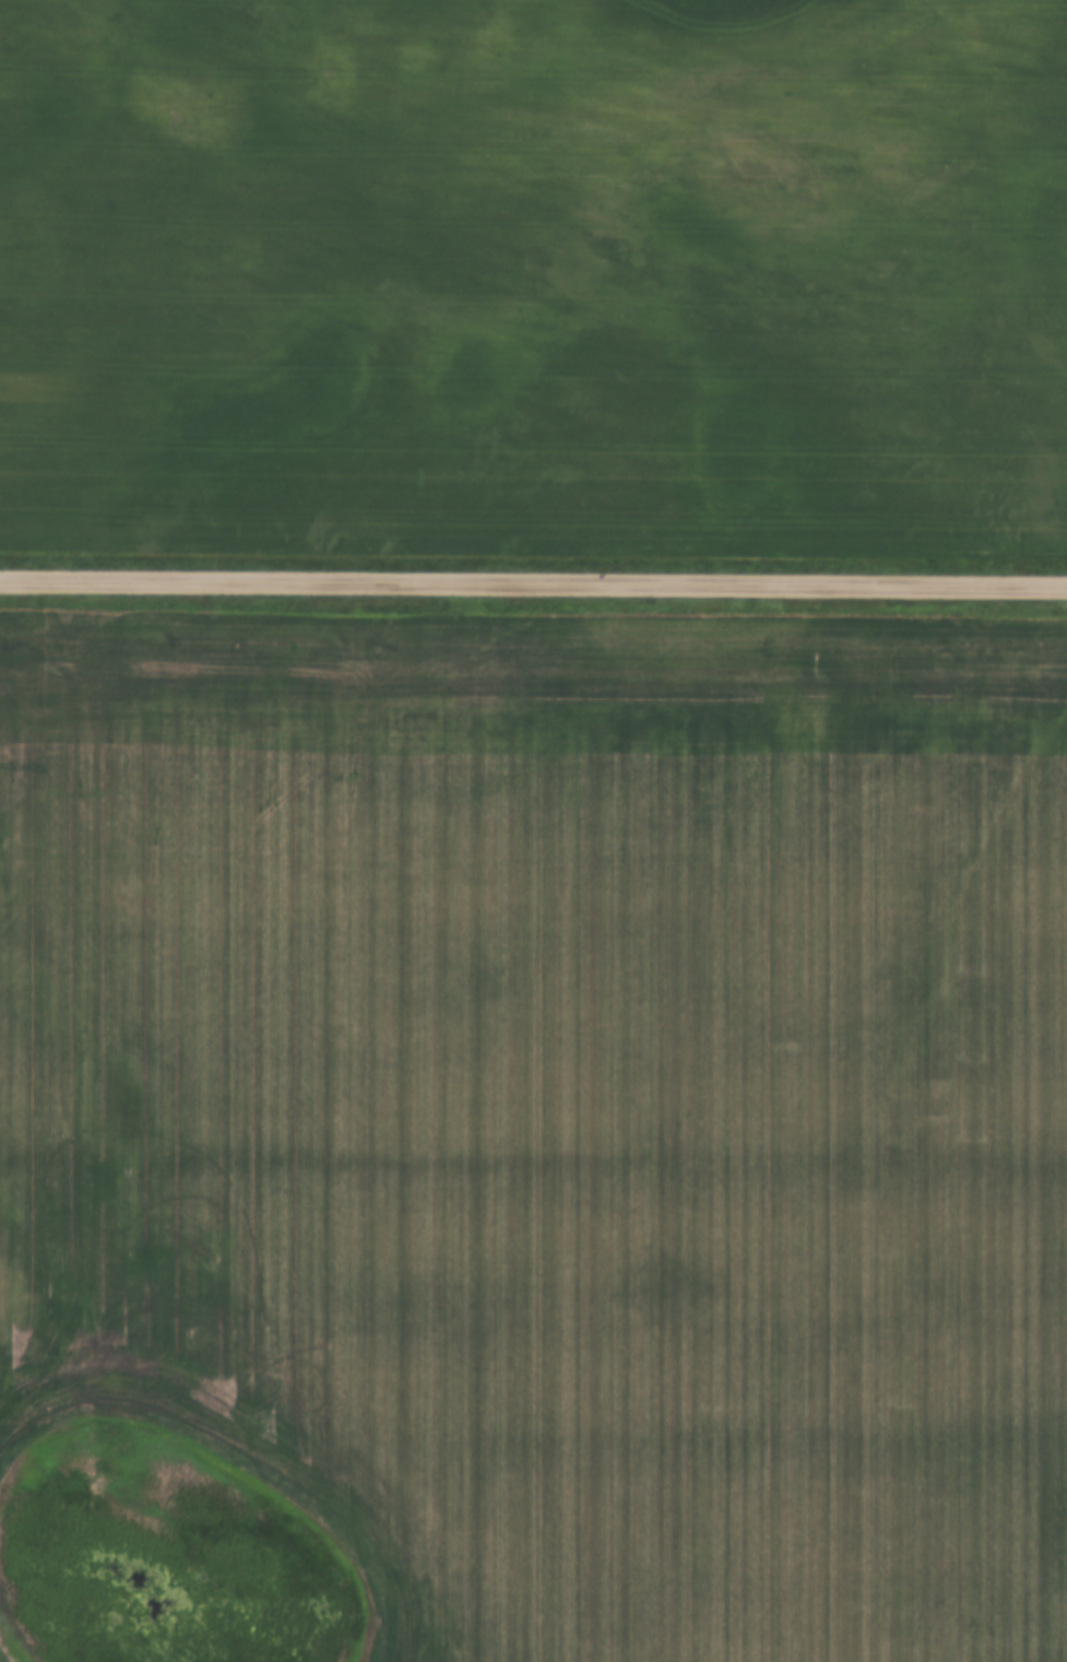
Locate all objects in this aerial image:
road: (533, 579)

